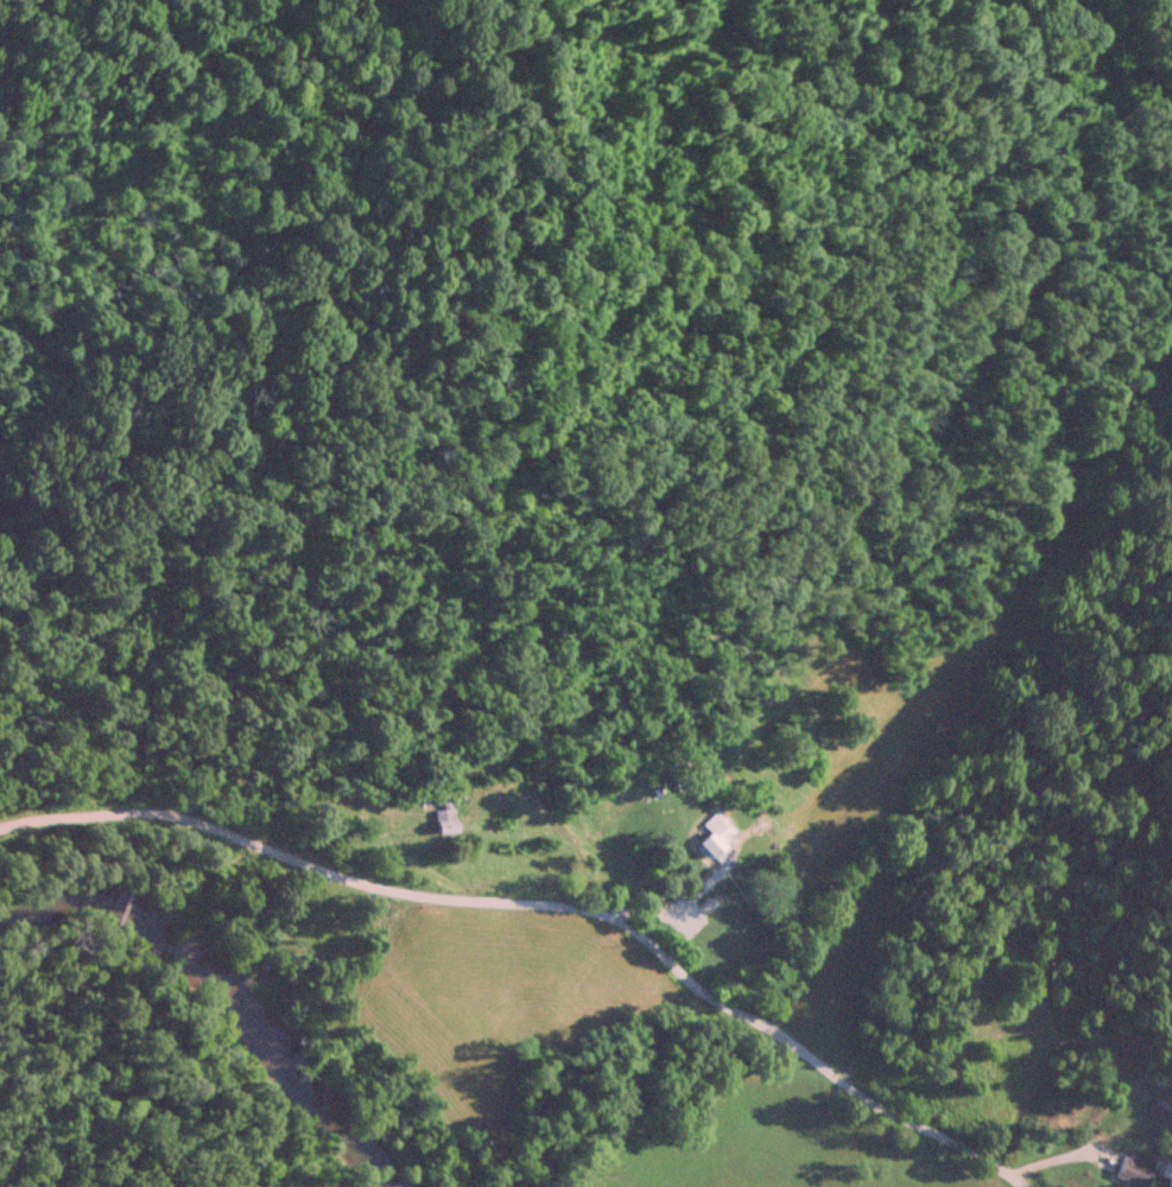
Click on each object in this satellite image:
road: (550, 903)

